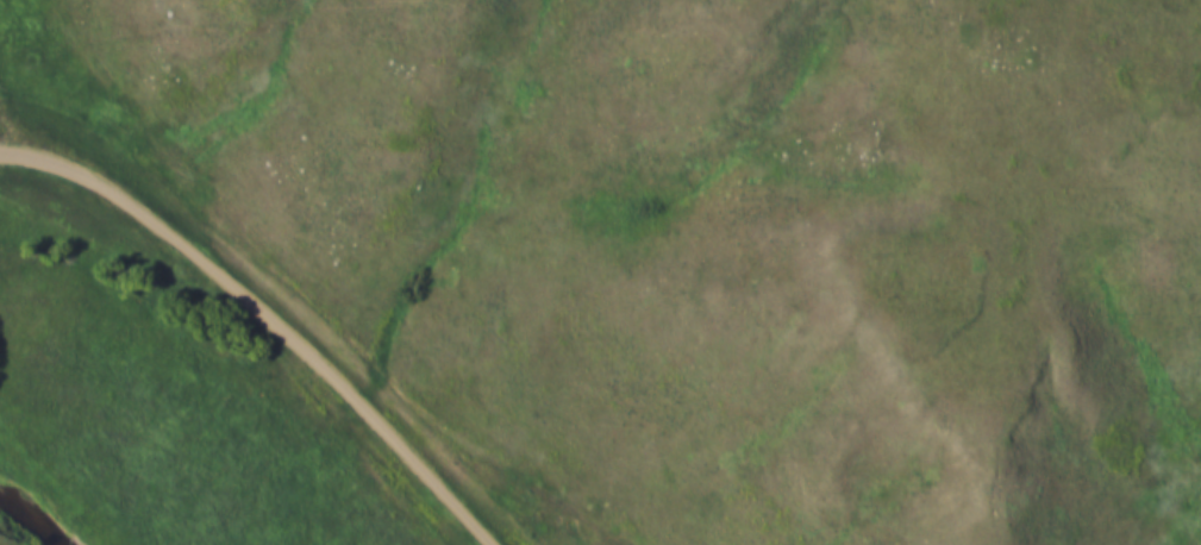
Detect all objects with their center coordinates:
road: (10, 130)
road: (268, 317)
river: (31, 518)

